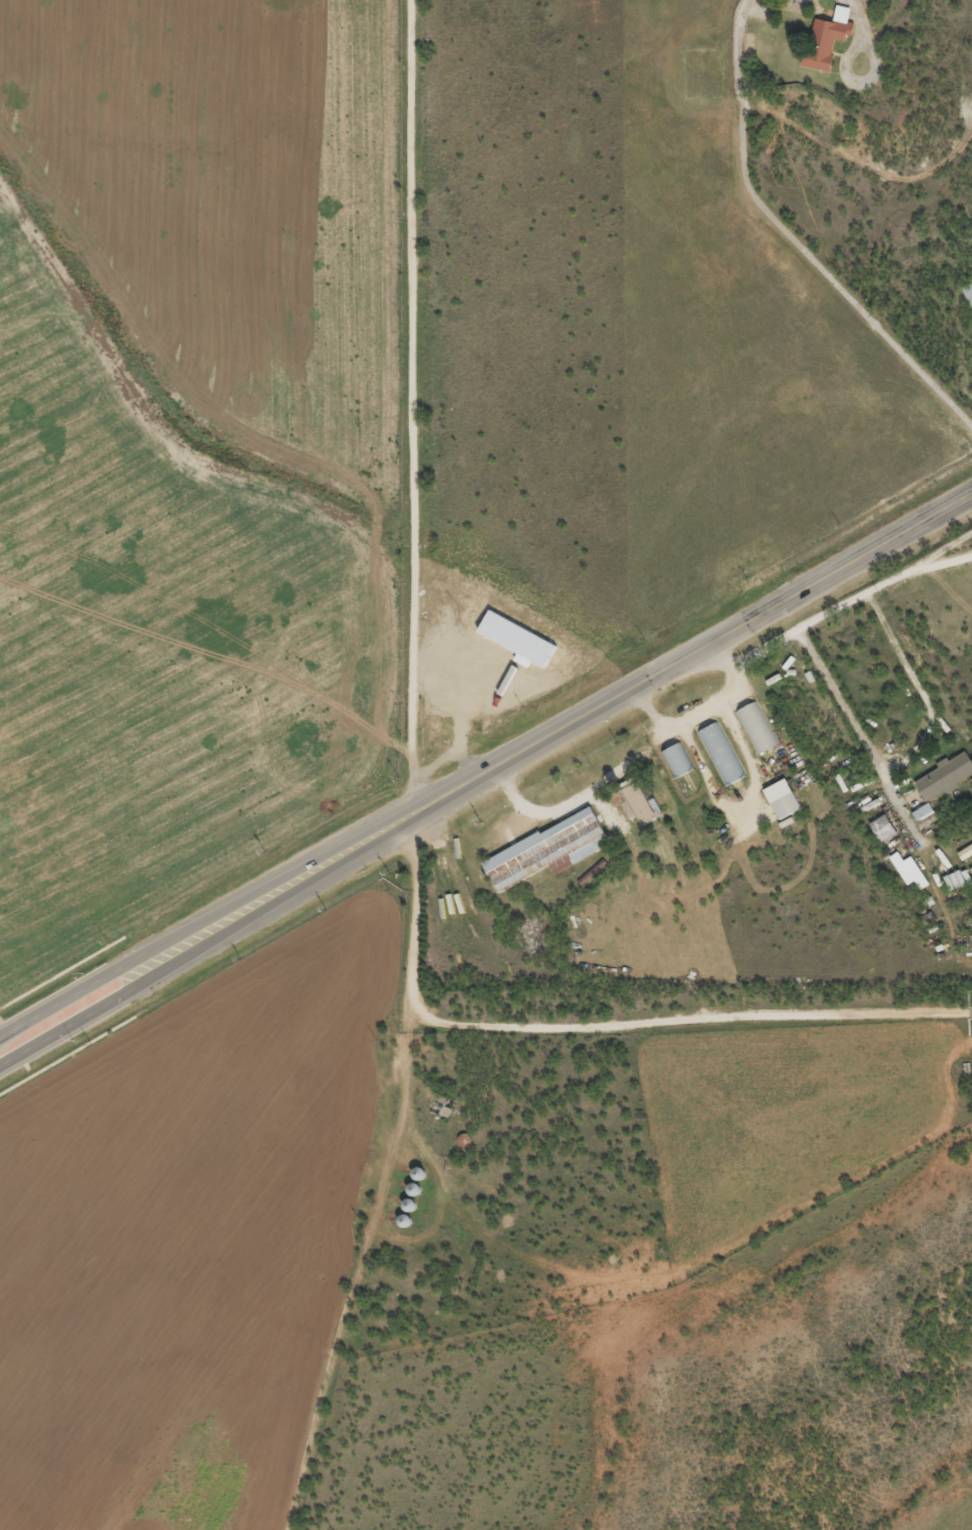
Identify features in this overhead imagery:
building: (827, 38)
building: (968, 292)
road: (412, 402)
road: (849, 600)
road: (732, 625)
road: (701, 712)
building: (755, 727)
building: (721, 753)
road: (905, 756)
building: (677, 759)
building: (944, 776)
road: (749, 798)
building: (782, 798)
building: (638, 799)
building: (925, 814)
building: (883, 827)
building: (548, 849)
building: (965, 851)
building: (909, 869)
road: (245, 895)
road: (249, 916)
road: (62, 971)
road: (600, 1023)
road: (67, 1054)
road: (364, 1260)

